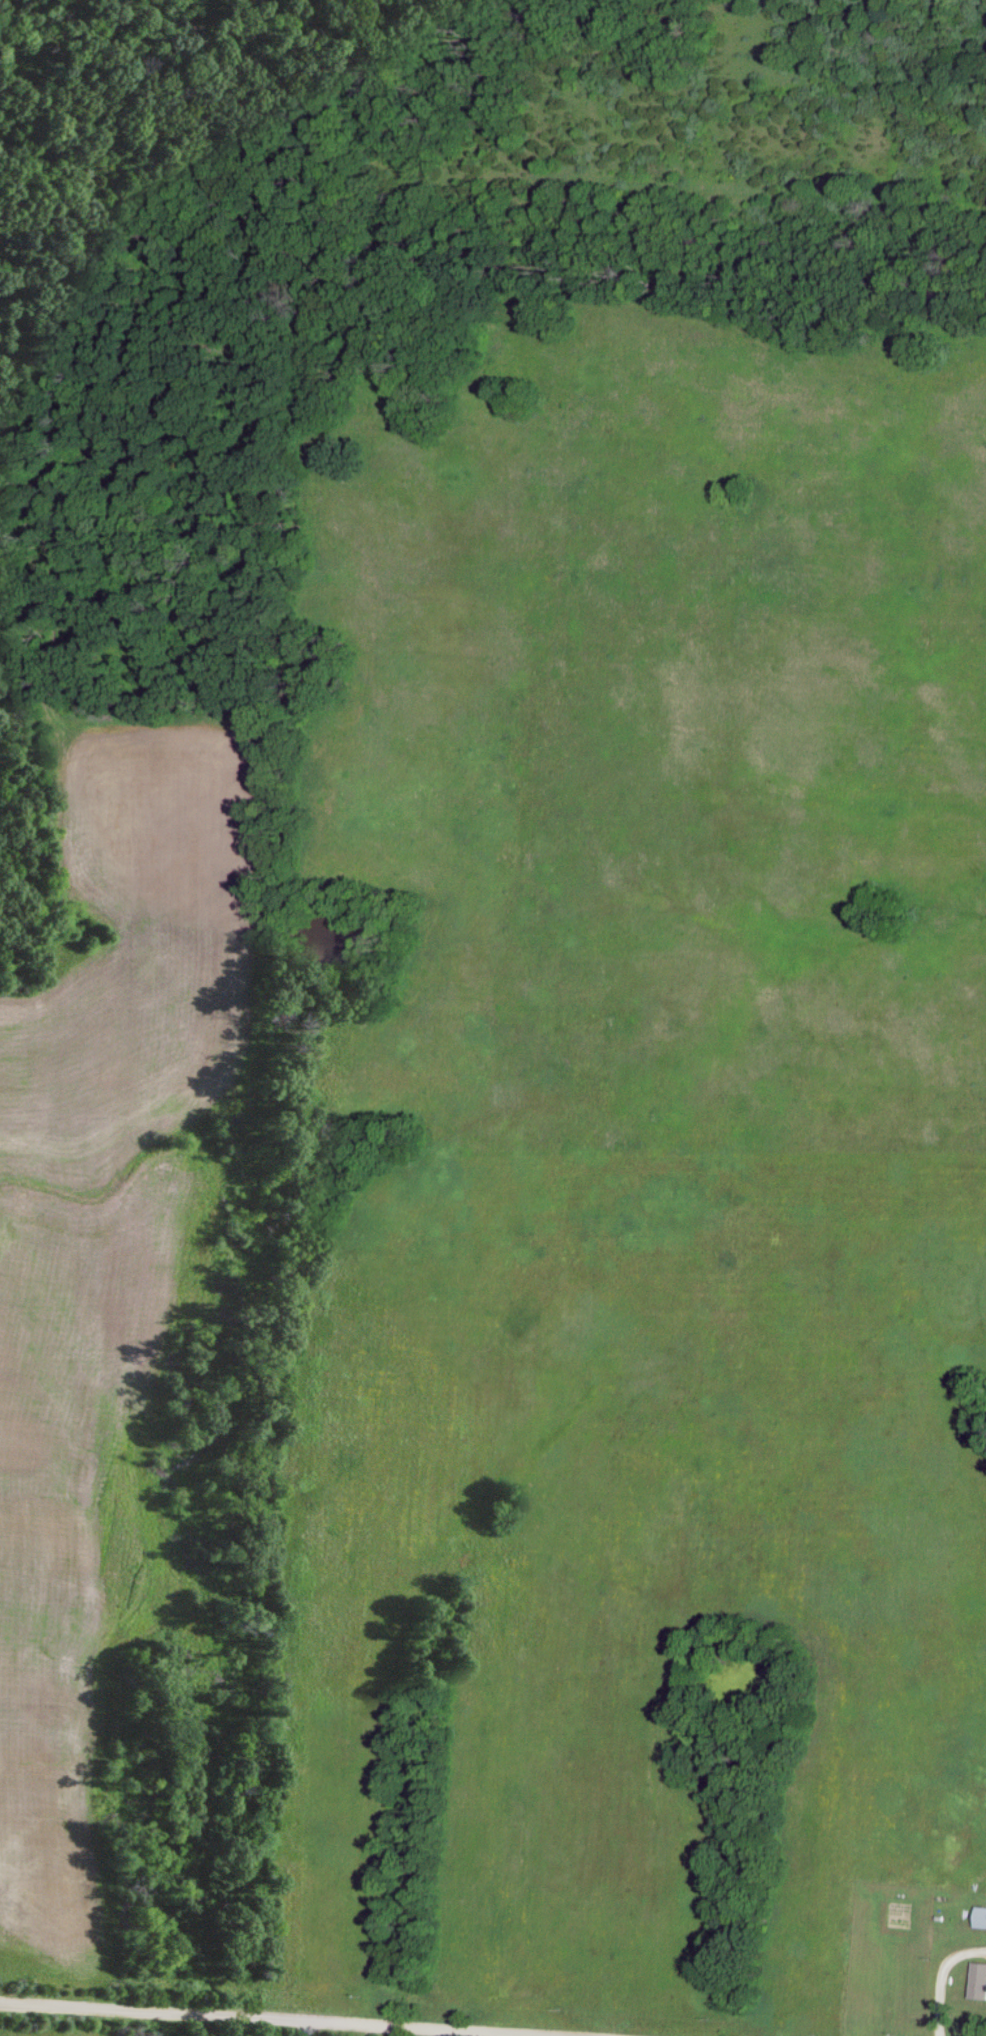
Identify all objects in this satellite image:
building: (984, 1918)
road: (939, 1974)
building: (979, 1982)
road: (322, 2016)

